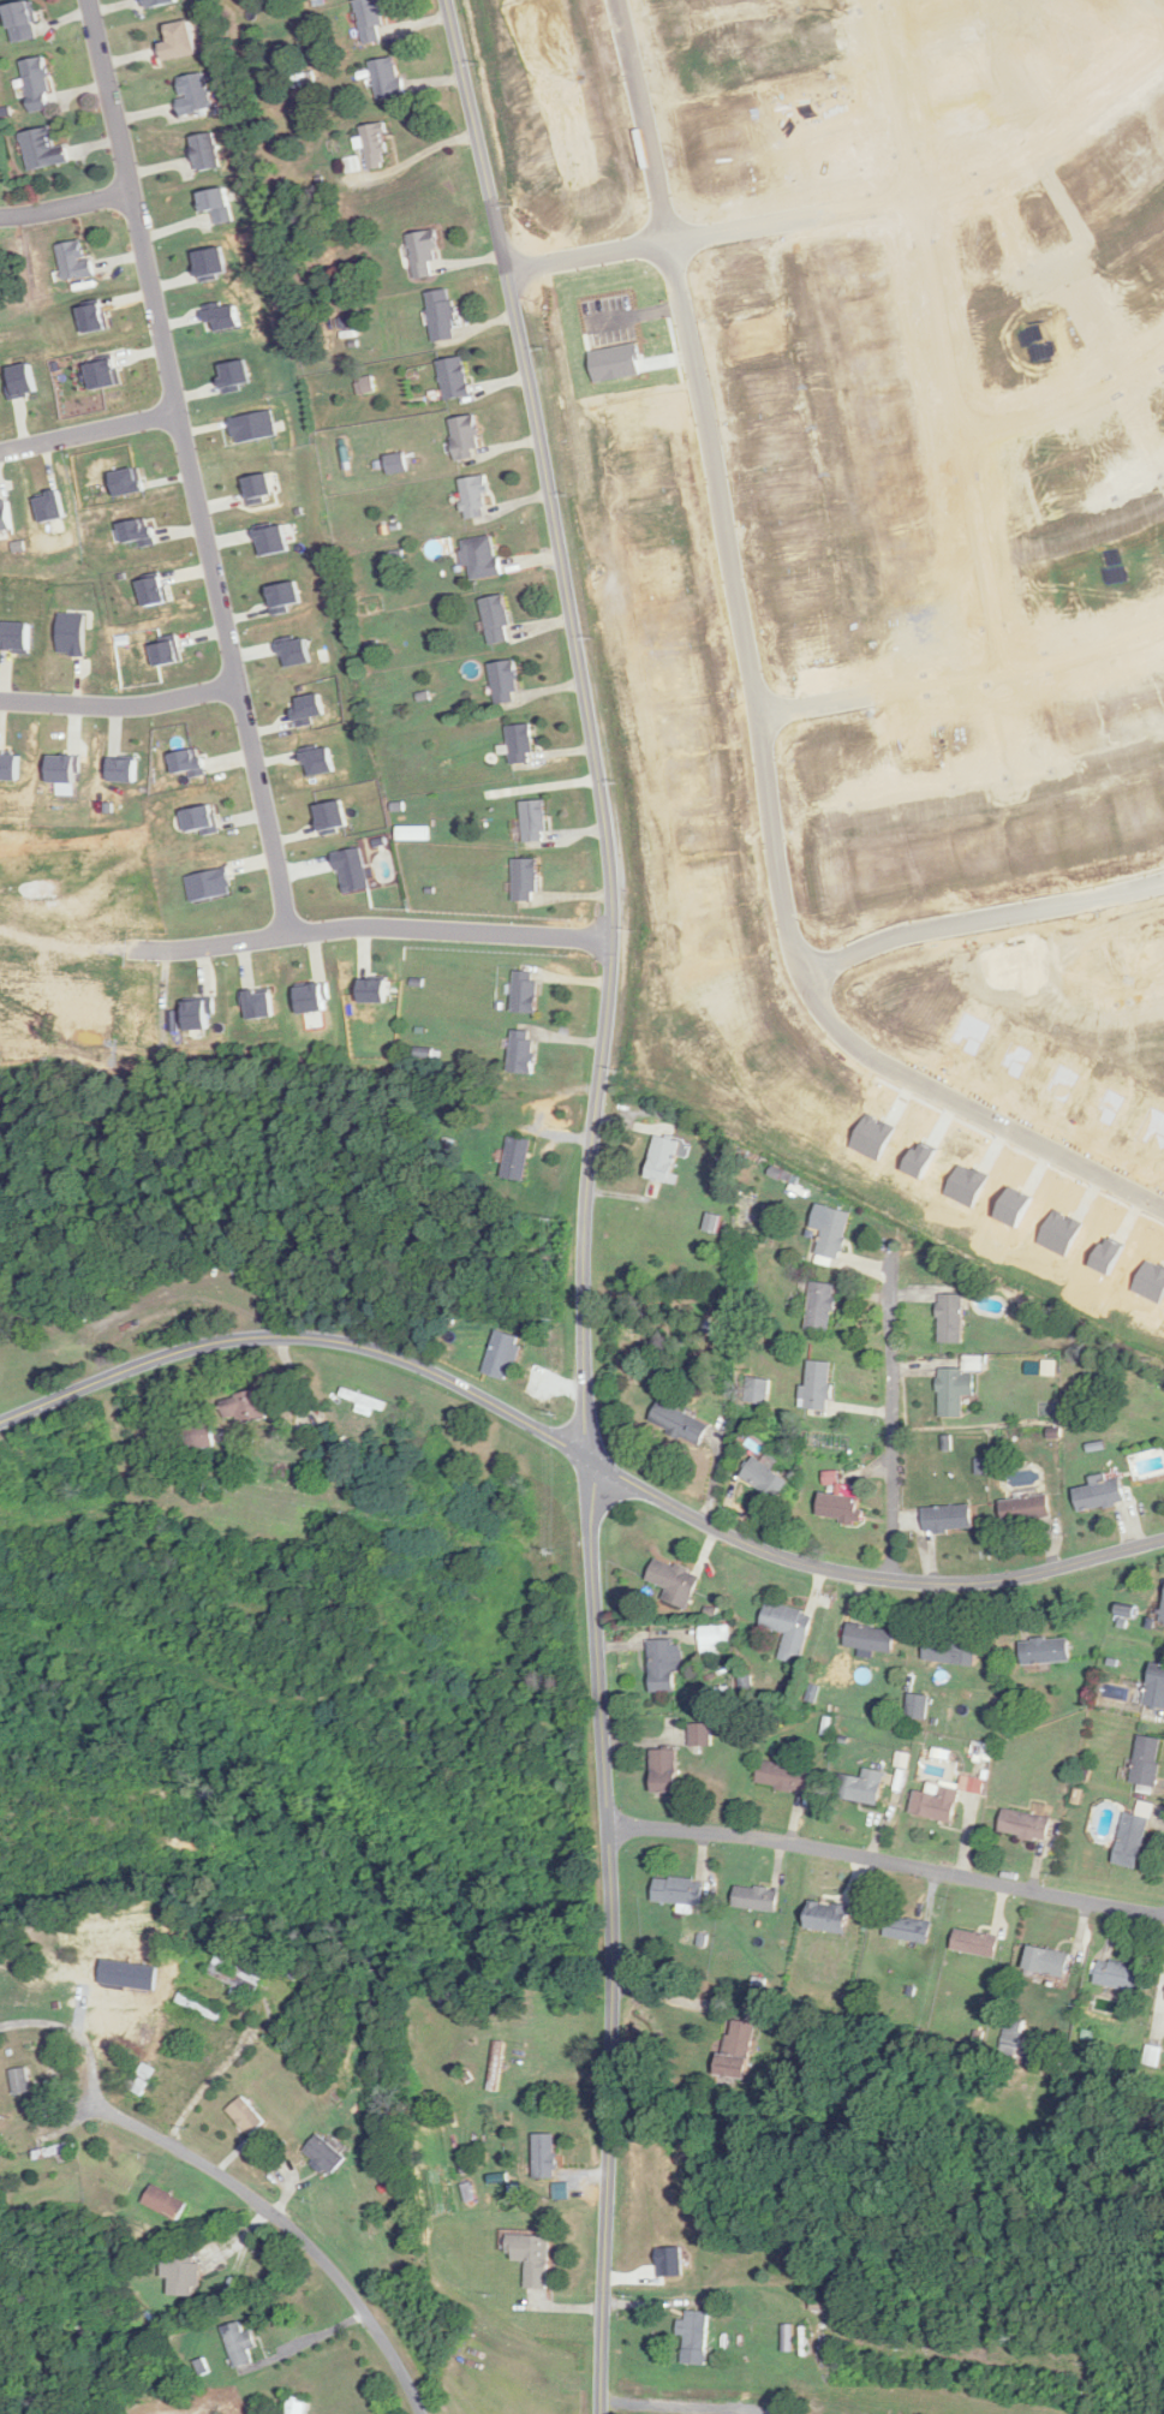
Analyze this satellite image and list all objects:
building: (162, 2)
building: (372, 19)
building: (24, 22)
building: (179, 41)
building: (387, 78)
building: (38, 84)
building: (192, 94)
building: (377, 145)
building: (43, 150)
building: (208, 151)
building: (219, 207)
road: (62, 208)
road: (814, 215)
building: (425, 254)
building: (74, 261)
building: (2, 285)
building: (443, 316)
road: (939, 351)
building: (455, 379)
road: (1064, 406)
road: (88, 435)
building: (467, 437)
building: (396, 464)
road: (186, 466)
building: (477, 499)
building: (6, 517)
building: (482, 559)
building: (497, 620)
road: (961, 675)
building: (507, 683)
road: (118, 707)
road: (760, 740)
building: (521, 745)
building: (535, 822)
building: (526, 881)
road: (980, 918)
road: (375, 926)
building: (526, 993)
building: (524, 1054)
building: (518, 1160)
building: (667, 1161)
road: (591, 1198)
building: (834, 1238)
building: (822, 1307)
building: (951, 1319)
building: (503, 1355)
building: (818, 1387)
building: (757, 1391)
building: (955, 1391)
road: (888, 1400)
building: (366, 1403)
building: (249, 1408)
building: (680, 1424)
building: (198, 1437)
road: (577, 1455)
building: (766, 1480)
building: (1100, 1495)
building: (840, 1503)
building: (1027, 1510)
building: (949, 1520)
building: (675, 1582)
building: (789, 1626)
building: (872, 1638)
building: (714, 1639)
building: (951, 1650)
building: (1046, 1650)
building: (662, 1665)
building: (1156, 1686)
building: (919, 1704)
building: (700, 1734)
building: (1147, 1760)
building: (665, 1770)
building: (786, 1775)
building: (862, 1786)
building: (938, 1800)
building: (1027, 1824)
building: (1134, 1836)
road: (885, 1864)
building: (680, 1890)
building: (757, 1897)
building: (831, 1917)
building: (909, 1929)
building: (977, 1942)
building: (1049, 1961)
building: (1122, 1975)
building: (237, 1978)
road: (685, 1999)
building: (201, 2008)
road: (74, 2033)
building: (739, 2049)
building: (497, 2066)
building: (143, 2079)
building: (22, 2080)
building: (247, 2116)
building: (54, 2151)
building: (326, 2154)
building: (547, 2156)
building: (166, 2203)
road: (273, 2213)
building: (532, 2258)
building: (183, 2275)
building: (694, 2337)
building: (240, 2344)
building: (297, 2404)

